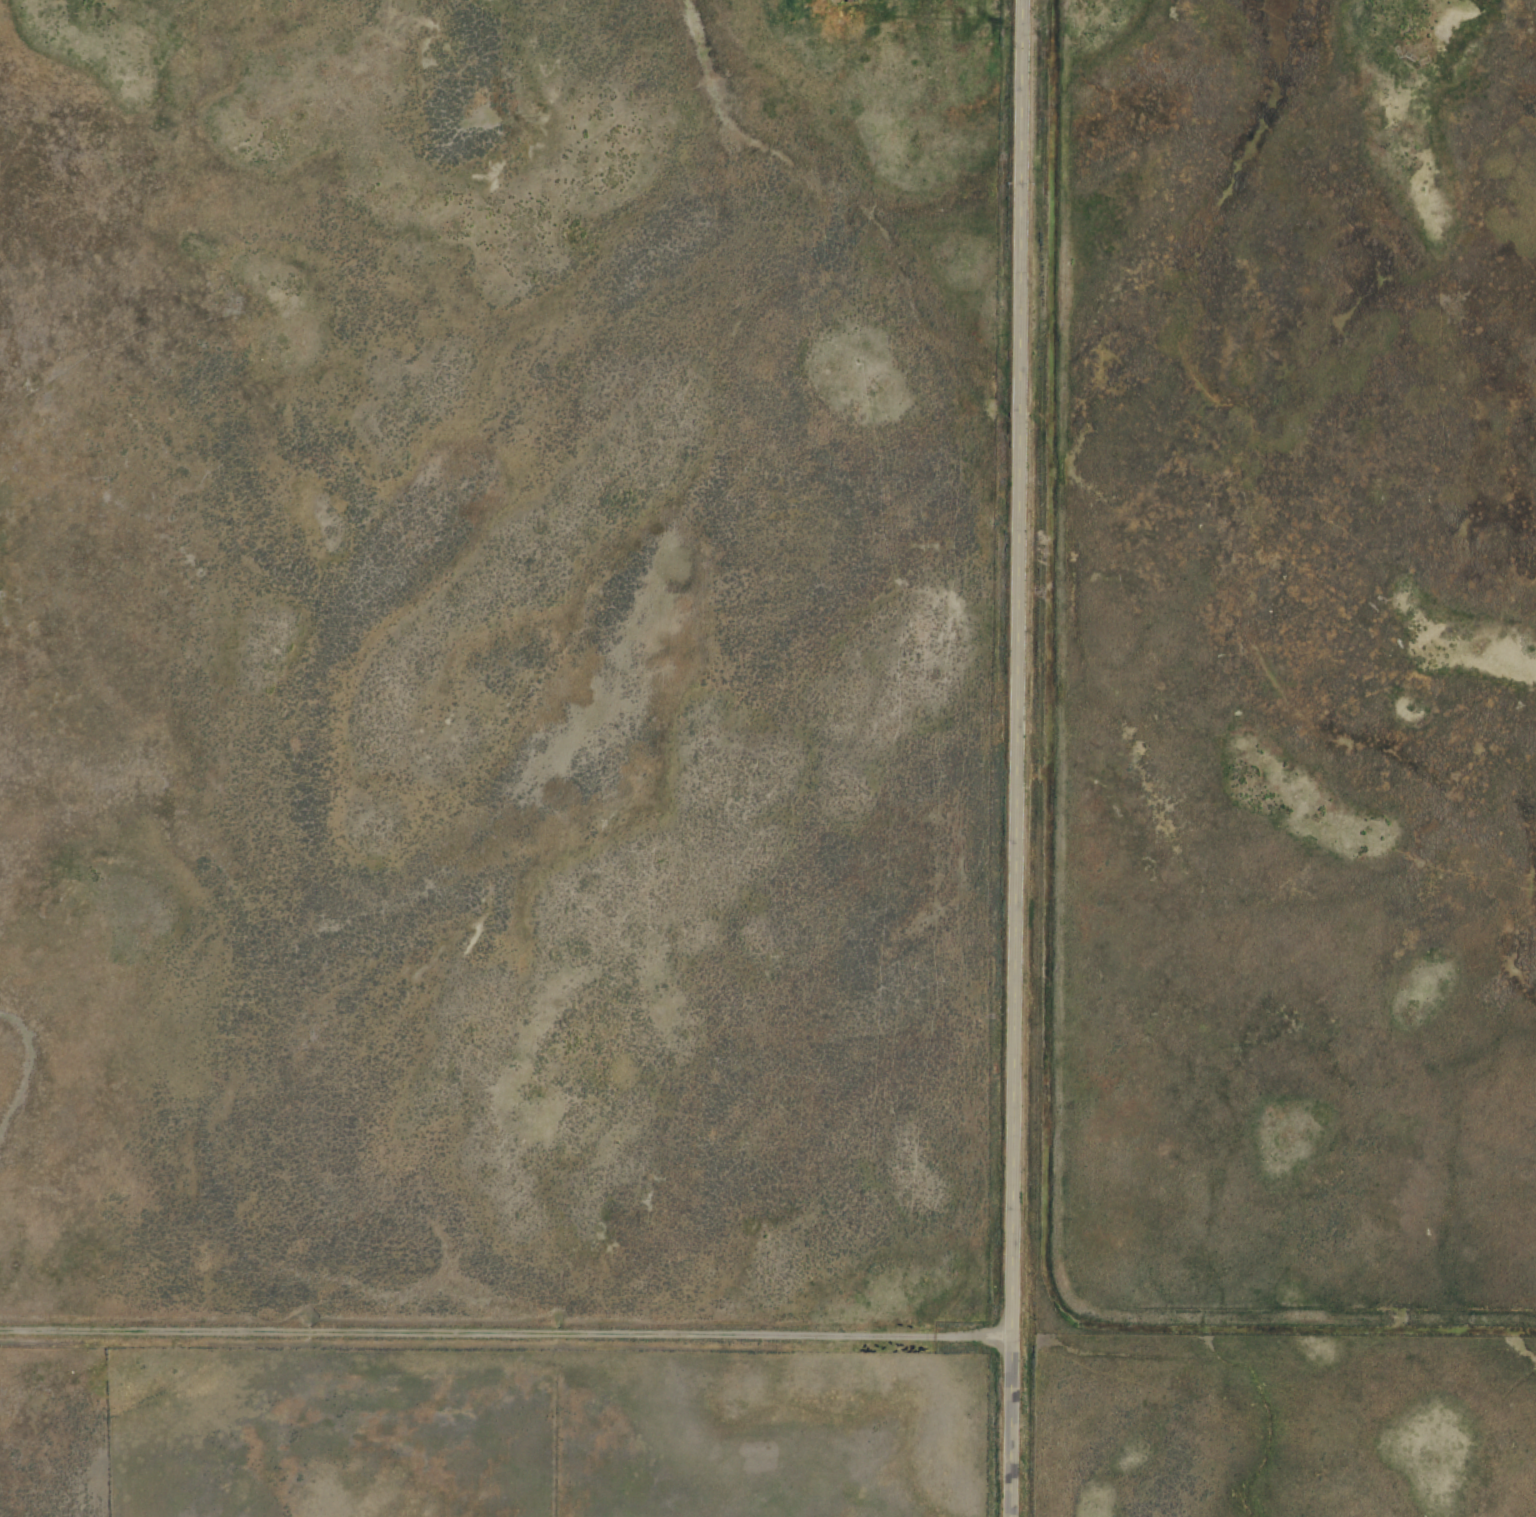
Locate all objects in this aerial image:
crop: (842, 741)
road: (1012, 758)
road: (504, 1332)

